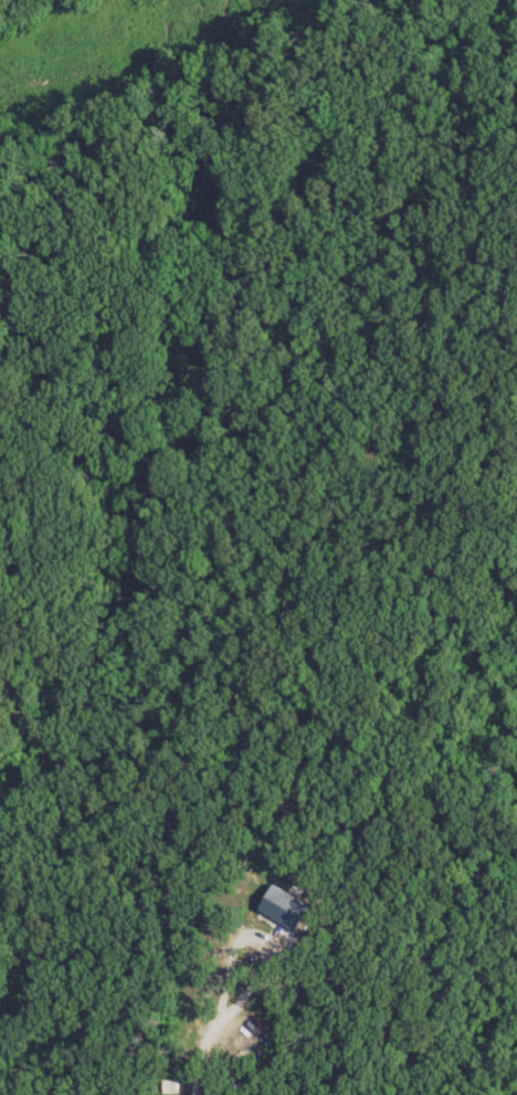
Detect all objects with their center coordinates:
road: (253, 945)
building: (211, 1039)
road: (197, 1054)

